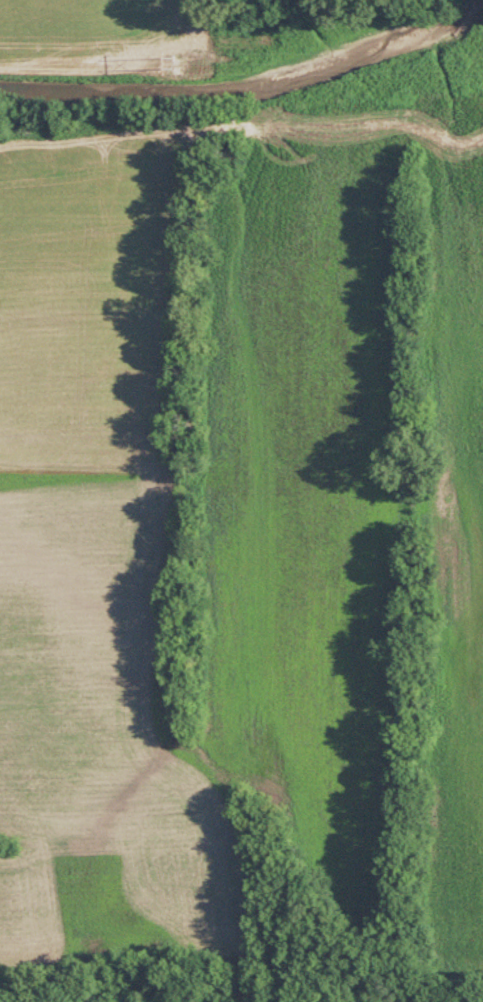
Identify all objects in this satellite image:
power tower: (174, 58)

